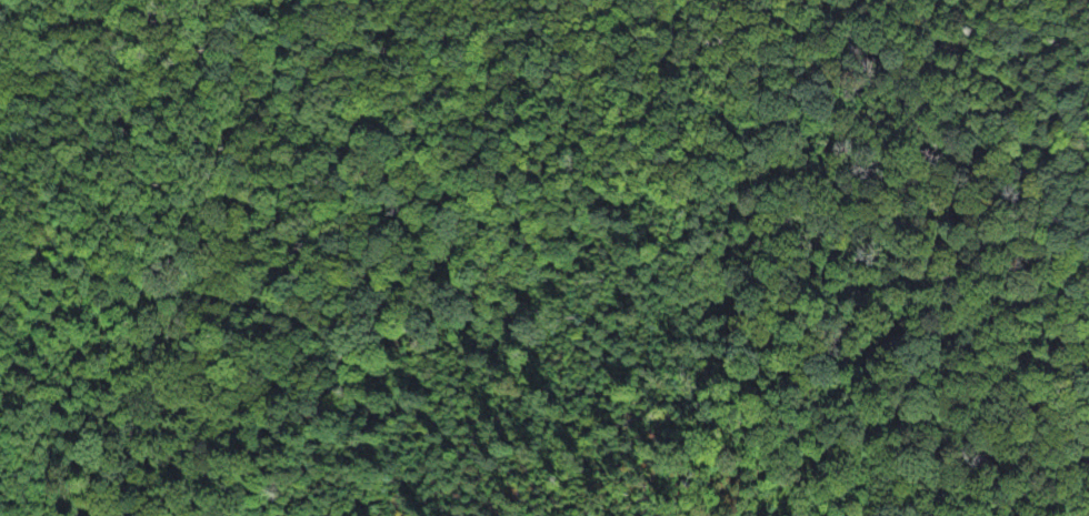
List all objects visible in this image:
road: (430, 193)

